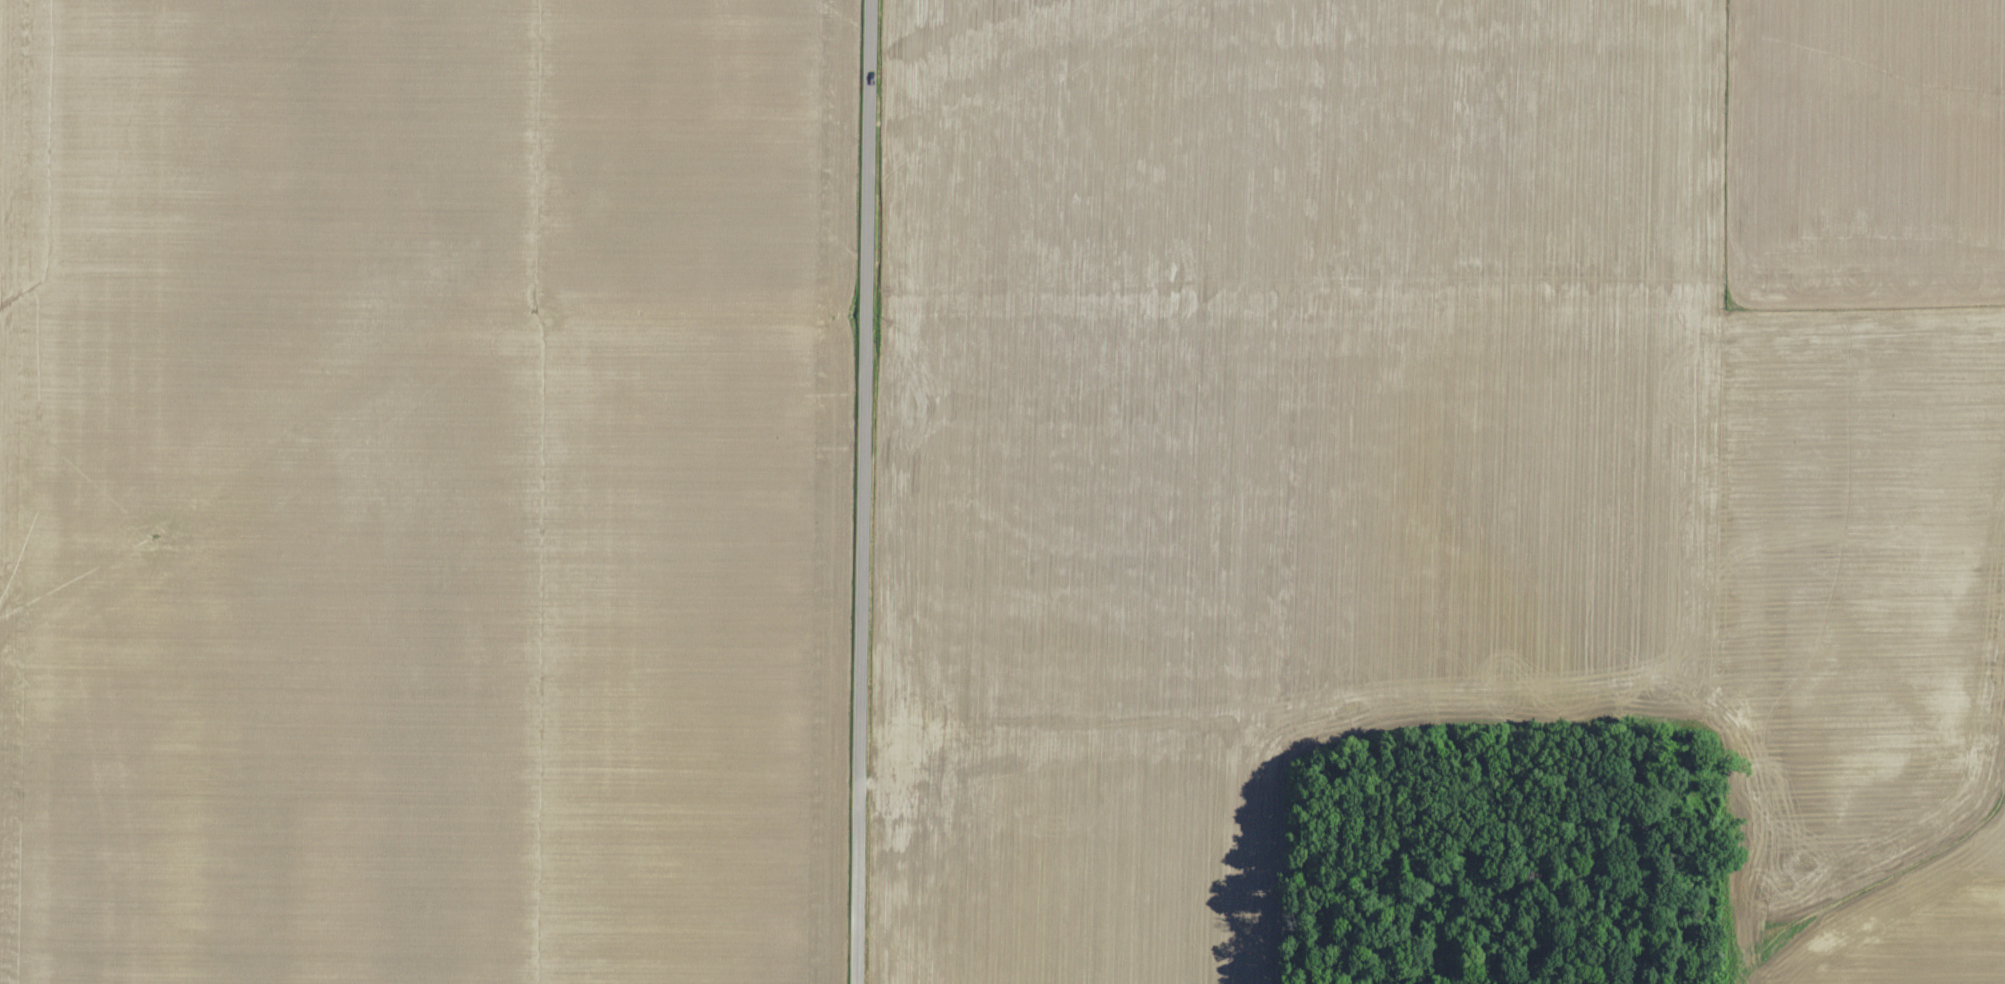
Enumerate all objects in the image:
road: (865, 492)

